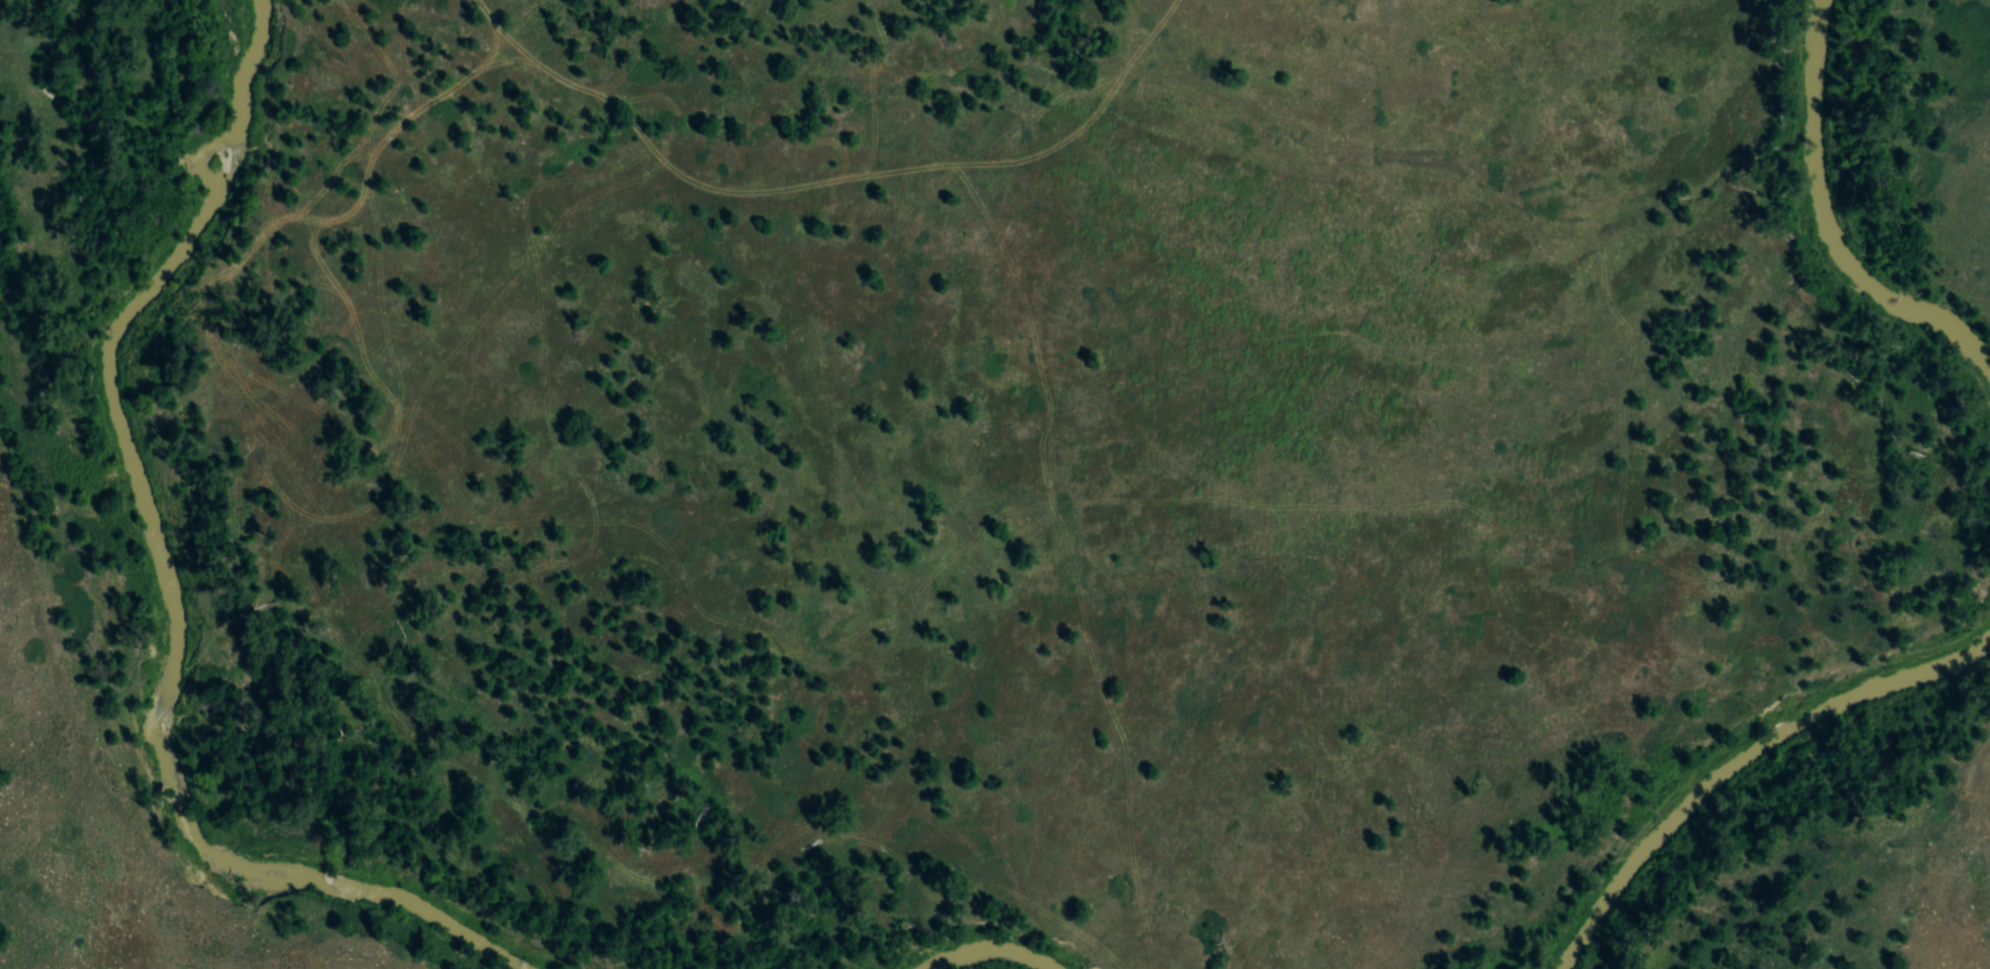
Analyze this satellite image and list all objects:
river: (1825, 225)
road: (737, 318)
river: (167, 581)
river: (1740, 758)
river: (989, 949)

